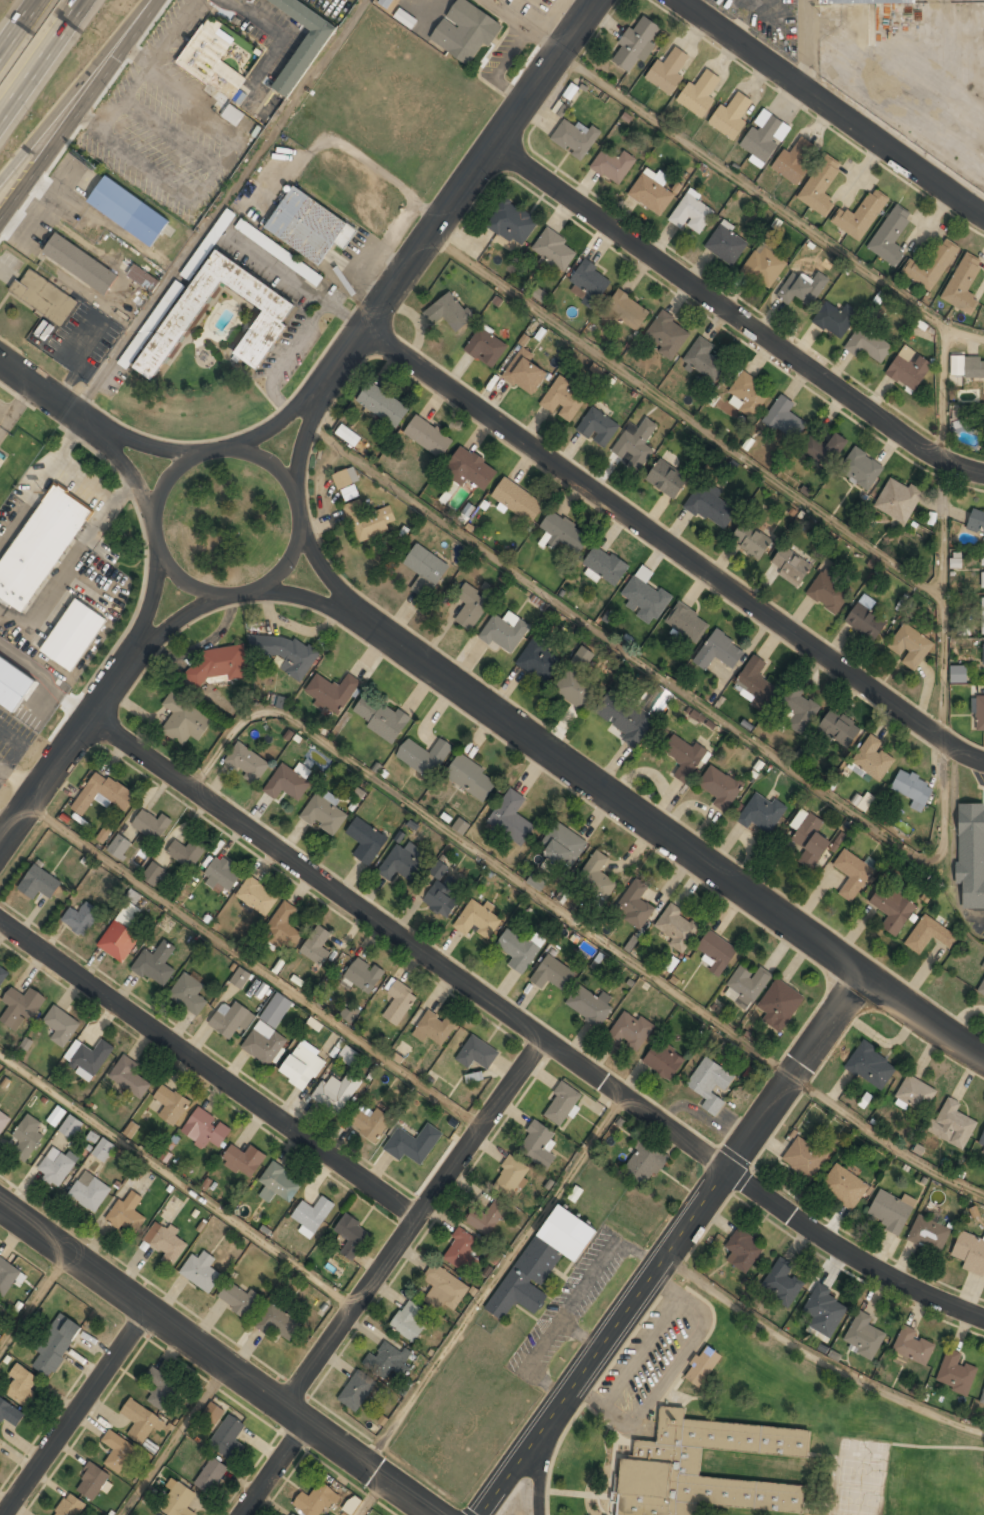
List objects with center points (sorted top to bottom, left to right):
building: (245, 0)
building: (867, 1)
building: (385, 3)
building: (405, 18)
road: (21, 30)
building: (470, 31)
building: (302, 43)
building: (636, 43)
building: (211, 60)
road: (42, 63)
building: (668, 71)
road: (73, 92)
building: (700, 93)
road: (833, 109)
road: (82, 113)
building: (732, 114)
building: (242, 121)
building: (765, 136)
building: (575, 138)
building: (796, 159)
road: (484, 165)
building: (613, 165)
building: (820, 187)
building: (652, 194)
road: (770, 202)
building: (128, 211)
building: (692, 213)
building: (861, 215)
building: (510, 223)
building: (221, 226)
building: (308, 226)
building: (890, 236)
building: (727, 244)
building: (555, 251)
building: (80, 264)
building: (765, 265)
building: (931, 266)
building: (141, 280)
road: (296, 281)
building: (589, 284)
building: (963, 284)
building: (803, 287)
building: (43, 297)
building: (449, 311)
building: (626, 311)
road: (740, 317)
building: (835, 318)
building: (151, 324)
building: (264, 332)
building: (668, 334)
building: (868, 343)
road: (350, 345)
building: (486, 347)
road: (284, 354)
building: (704, 359)
building: (967, 366)
building: (909, 367)
building: (524, 371)
road: (42, 390)
building: (748, 393)
road: (943, 394)
building: (564, 399)
building: (382, 404)
road: (688, 418)
building: (785, 418)
building: (598, 427)
building: (961, 427)
building: (348, 435)
building: (429, 437)
building: (635, 443)
building: (826, 448)
building: (861, 468)
building: (472, 469)
road: (276, 471)
road: (172, 474)
building: (345, 477)
building: (667, 478)
building: (898, 499)
building: (517, 500)
building: (710, 506)
building: (370, 520)
building: (976, 521)
building: (564, 534)
building: (983, 539)
building: (752, 540)
building: (40, 546)
road: (673, 550)
road: (289, 555)
building: (606, 564)
building: (791, 566)
building: (425, 567)
building: (982, 572)
road: (193, 585)
building: (829, 592)
building: (645, 595)
road: (944, 602)
building: (471, 605)
building: (982, 616)
building: (866, 621)
building: (687, 623)
building: (506, 631)
building: (73, 635)
building: (911, 646)
building: (719, 652)
building: (287, 654)
building: (983, 655)
building: (540, 659)
building: (218, 665)
building: (958, 674)
road: (667, 677)
building: (757, 681)
building: (14, 682)
building: (575, 688)
building: (332, 691)
building: (650, 708)
building: (800, 709)
building: (979, 712)
building: (381, 716)
building: (625, 718)
building: (184, 720)
building: (838, 729)
building: (424, 756)
building: (684, 756)
road: (63, 759)
building: (873, 759)
building: (247, 762)
building: (471, 778)
building: (287, 784)
building: (720, 787)
building: (913, 788)
building: (102, 793)
building: (864, 800)
building: (762, 813)
building: (325, 814)
building: (512, 819)
building: (152, 825)
building: (461, 826)
building: (105, 832)
building: (808, 840)
building: (366, 841)
road: (686, 844)
building: (119, 846)
building: (564, 847)
building: (971, 851)
building: (187, 852)
road: (485, 856)
building: (400, 864)
building: (154, 873)
building: (223, 874)
building: (853, 874)
building: (597, 876)
building: (39, 883)
building: (257, 896)
building: (443, 897)
building: (635, 906)
building: (893, 909)
building: (80, 917)
building: (478, 920)
building: (284, 928)
building: (678, 928)
building: (122, 930)
building: (930, 935)
building: (317, 945)
building: (519, 950)
building: (717, 952)
building: (156, 964)
road: (257, 968)
building: (553, 973)
building: (3, 974)
building: (364, 975)
building: (240, 978)
building: (749, 983)
building: (981, 988)
building: (189, 994)
building: (399, 1002)
building: (589, 1004)
building: (780, 1004)
building: (20, 1008)
building: (275, 1010)
building: (231, 1020)
building: (61, 1025)
building: (434, 1028)
road: (532, 1028)
building: (630, 1031)
building: (265, 1044)
building: (476, 1052)
building: (349, 1056)
building: (91, 1058)
building: (664, 1061)
building: (871, 1065)
building: (303, 1066)
building: (130, 1076)
building: (474, 1076)
road: (207, 1078)
building: (710, 1085)
building: (336, 1092)
building: (916, 1093)
building: (562, 1103)
building: (172, 1105)
building: (56, 1115)
building: (4, 1121)
building: (371, 1122)
building: (952, 1124)
building: (71, 1127)
building: (131, 1129)
building: (206, 1129)
building: (27, 1138)
building: (982, 1139)
road: (884, 1140)
building: (414, 1144)
building: (537, 1144)
building: (982, 1147)
building: (102, 1149)
building: (805, 1157)
building: (244, 1160)
building: (645, 1163)
building: (56, 1166)
building: (511, 1176)
road: (178, 1182)
building: (279, 1183)
building: (845, 1188)
building: (90, 1191)
road: (700, 1209)
building: (891, 1211)
building: (126, 1213)
building: (313, 1215)
building: (487, 1217)
road: (418, 1221)
building: (929, 1233)
building: (352, 1235)
building: (167, 1243)
building: (461, 1249)
building: (743, 1250)
building: (970, 1252)
building: (542, 1260)
building: (201, 1270)
building: (7, 1275)
building: (783, 1283)
building: (445, 1288)
building: (240, 1298)
road: (36, 1302)
building: (825, 1311)
building: (280, 1322)
building: (408, 1322)
building: (864, 1336)
building: (56, 1344)
building: (914, 1345)
road: (222, 1357)
road: (818, 1357)
building: (386, 1361)
building: (703, 1366)
building: (956, 1372)
building: (22, 1385)
building: (160, 1386)
building: (357, 1390)
building: (982, 1399)
road: (77, 1411)
building: (214, 1411)
building: (9, 1412)
building: (141, 1420)
building: (228, 1436)
road: (178, 1439)
building: (117, 1450)
park: (943, 1465)
building: (659, 1467)
road: (283, 1469)
building: (211, 1475)
road: (514, 1480)
building: (92, 1481)
road: (373, 1495)
building: (178, 1500)
building: (316, 1500)
building: (352, 1504)
building: (70, 1506)
building: (290, 1514)

